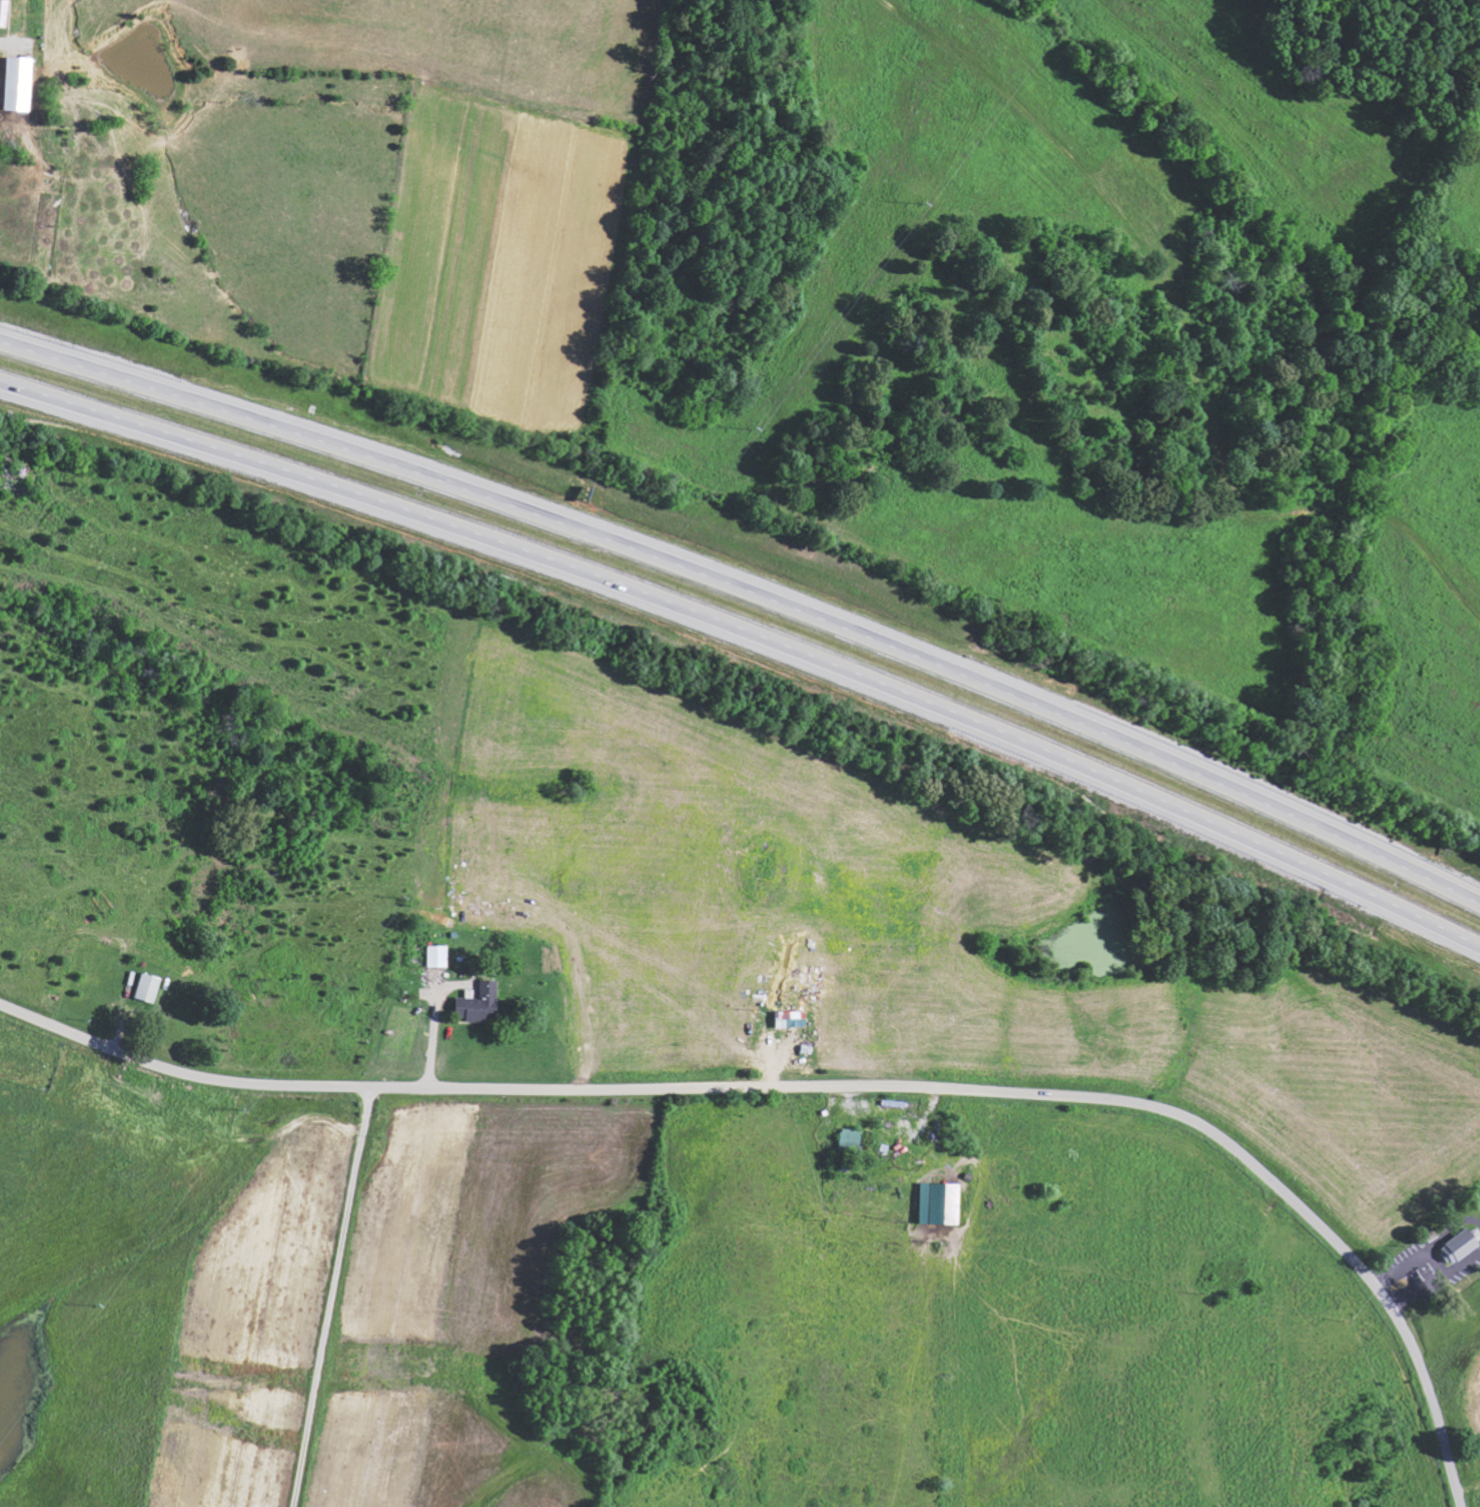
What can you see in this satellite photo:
building: (3, 12)
building: (19, 82)
road: (751, 589)
road: (751, 632)
building: (437, 956)
building: (148, 987)
building: (480, 1004)
building: (790, 1019)
road: (833, 1088)
building: (940, 1203)
building: (1460, 1246)

